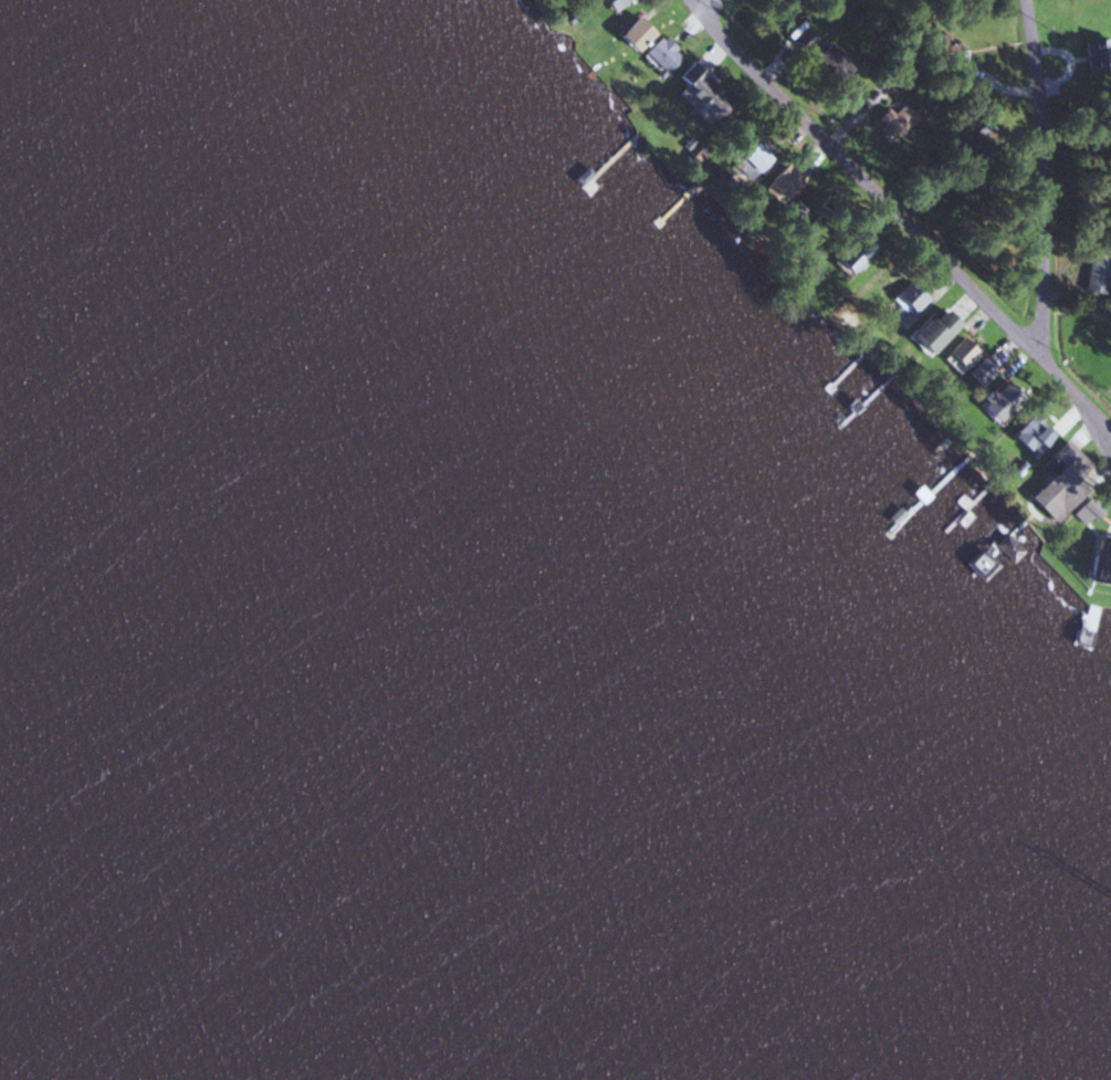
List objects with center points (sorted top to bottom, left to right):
building: (611, 2)
road: (733, 17)
building: (631, 33)
building: (1096, 53)
building: (661, 54)
building: (820, 57)
building: (946, 70)
building: (694, 92)
building: (891, 122)
building: (746, 159)
road: (1045, 176)
building: (780, 182)
road: (900, 222)
building: (850, 254)
building: (1096, 274)
building: (908, 298)
building: (926, 331)
building: (957, 352)
building: (978, 371)
building: (996, 401)
building: (1029, 432)
road: (1110, 440)
building: (1057, 481)

